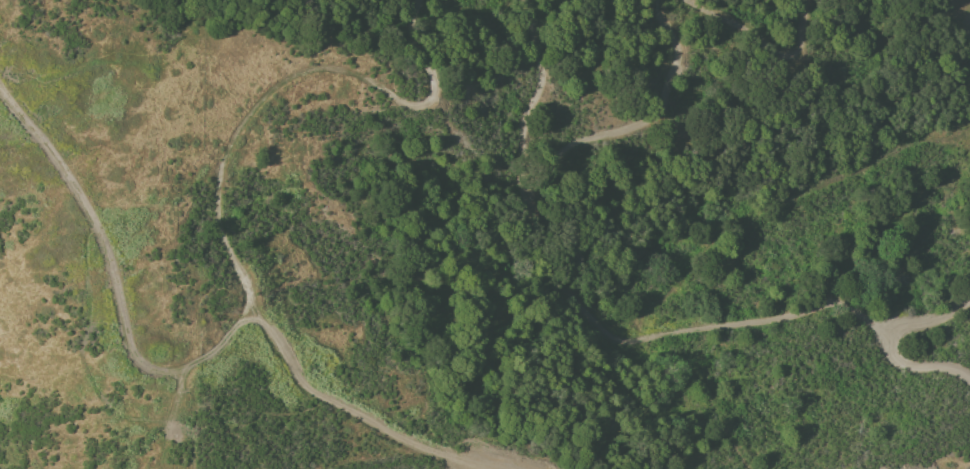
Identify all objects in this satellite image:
road: (869, 164)
road: (216, 204)
road: (114, 295)
road: (882, 341)

